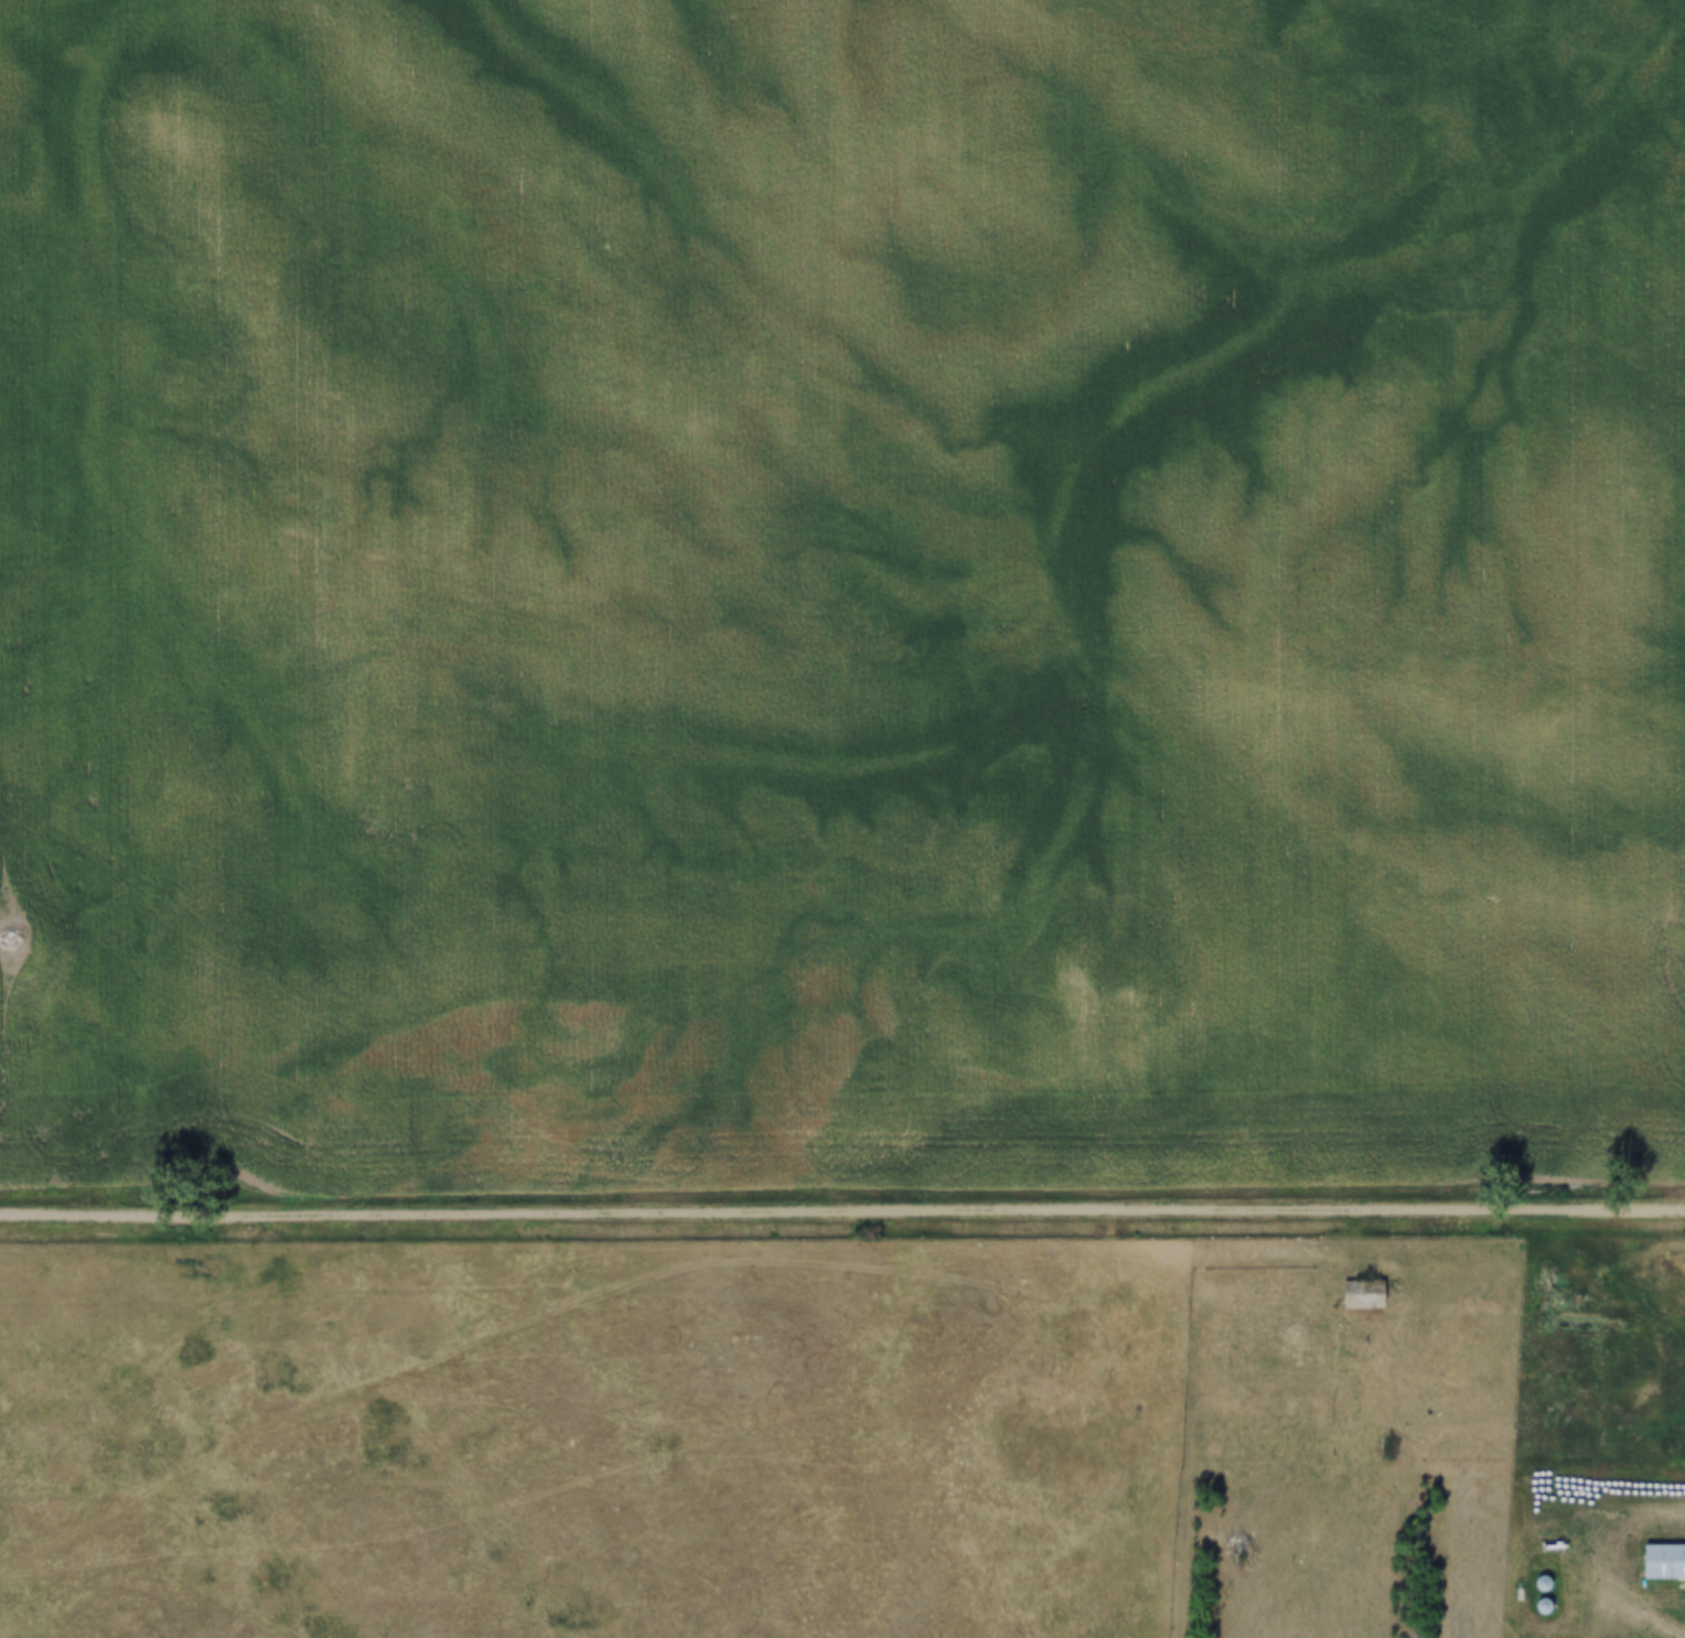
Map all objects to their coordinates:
road: (841, 1208)
building: (1351, 1293)
road: (1473, 1473)
building: (1659, 1561)
building: (1532, 1583)
silo: (1532, 1583)
building: (1533, 1605)
silo: (1533, 1605)
building: (1543, 1606)

